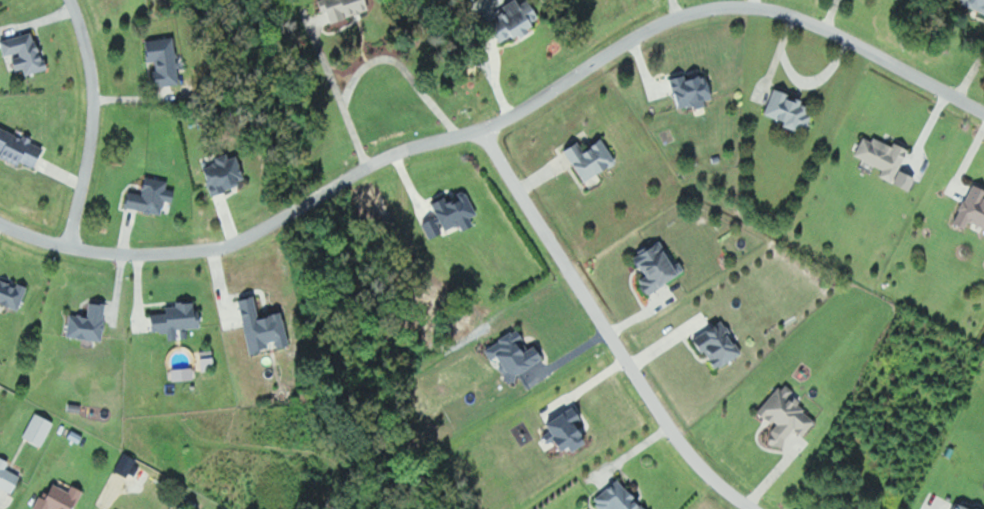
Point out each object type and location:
building: (975, 3)
road: (675, 7)
building: (345, 8)
building: (520, 18)
building: (27, 52)
building: (165, 59)
road: (404, 66)
building: (693, 90)
road: (338, 94)
building: (791, 109)
road: (501, 121)
road: (91, 122)
building: (20, 147)
building: (594, 157)
building: (888, 159)
building: (226, 173)
building: (153, 196)
building: (973, 207)
building: (453, 214)
building: (658, 266)
building: (12, 293)
building: (178, 318)
building: (90, 323)
building: (265, 326)
road: (606, 327)
building: (720, 344)
building: (516, 354)
building: (788, 416)
building: (40, 429)
building: (569, 431)
building: (129, 464)
building: (8, 477)
building: (62, 498)
building: (620, 499)
building: (959, 506)

